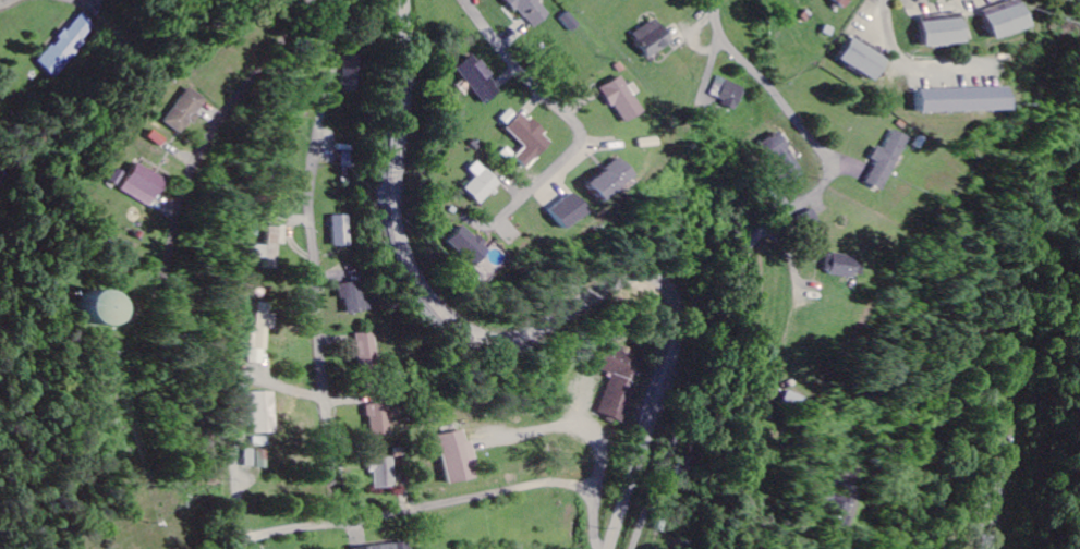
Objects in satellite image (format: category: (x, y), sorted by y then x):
road: (5, 1)
building: (845, 2)
building: (530, 11)
building: (1004, 19)
building: (570, 21)
building: (939, 30)
building: (655, 37)
building: (72, 45)
building: (863, 59)
building: (357, 71)
building: (478, 80)
road: (773, 91)
building: (735, 94)
building: (622, 99)
building: (958, 99)
road: (556, 109)
building: (192, 110)
road: (216, 131)
building: (527, 139)
building: (645, 143)
building: (782, 158)
building: (886, 159)
building: (353, 162)
building: (608, 179)
building: (480, 183)
building: (155, 184)
building: (567, 210)
building: (345, 231)
building: (276, 244)
building: (465, 244)
building: (844, 265)
building: (356, 297)
road: (537, 306)
building: (116, 307)
water tower: (114, 327)
road: (323, 328)
building: (266, 333)
building: (368, 347)
building: (623, 381)
building: (262, 412)
building: (381, 419)
building: (262, 457)
building: (458, 457)
building: (384, 473)
road: (444, 503)
building: (834, 507)
building: (390, 547)

